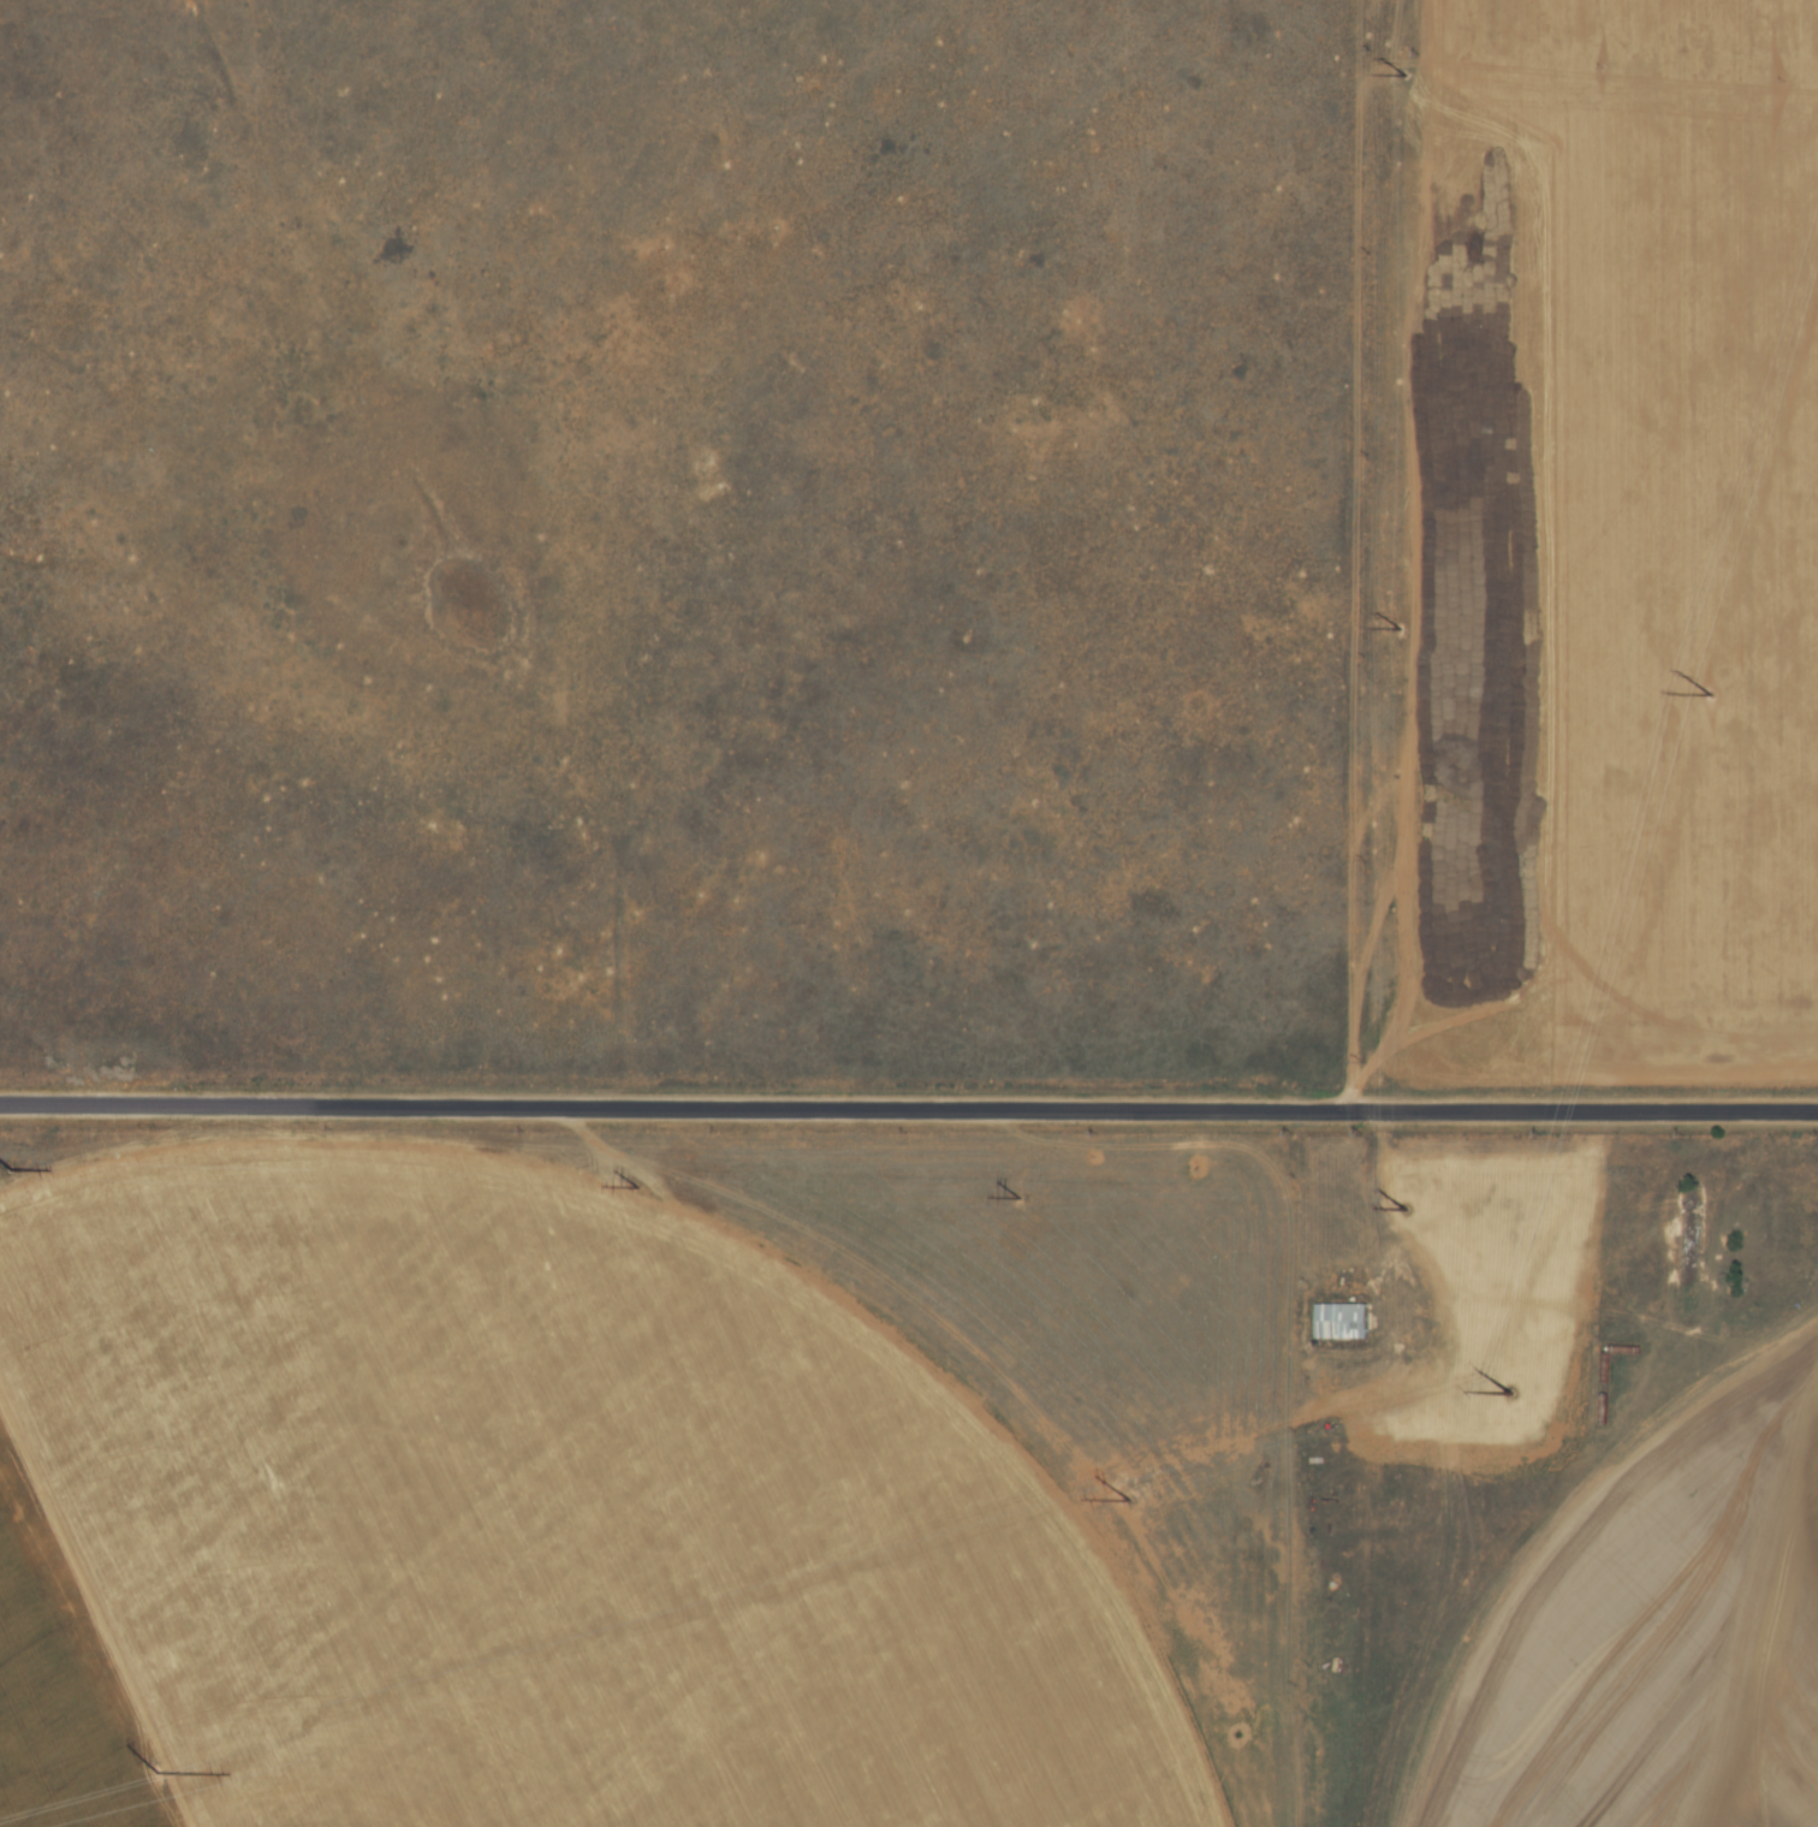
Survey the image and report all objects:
power tower: (1709, 698)
road: (909, 1107)
road: (1388, 1205)
building: (1338, 1323)
power tower: (1509, 1396)
power tower: (1131, 1502)
power tower: (156, 1776)

